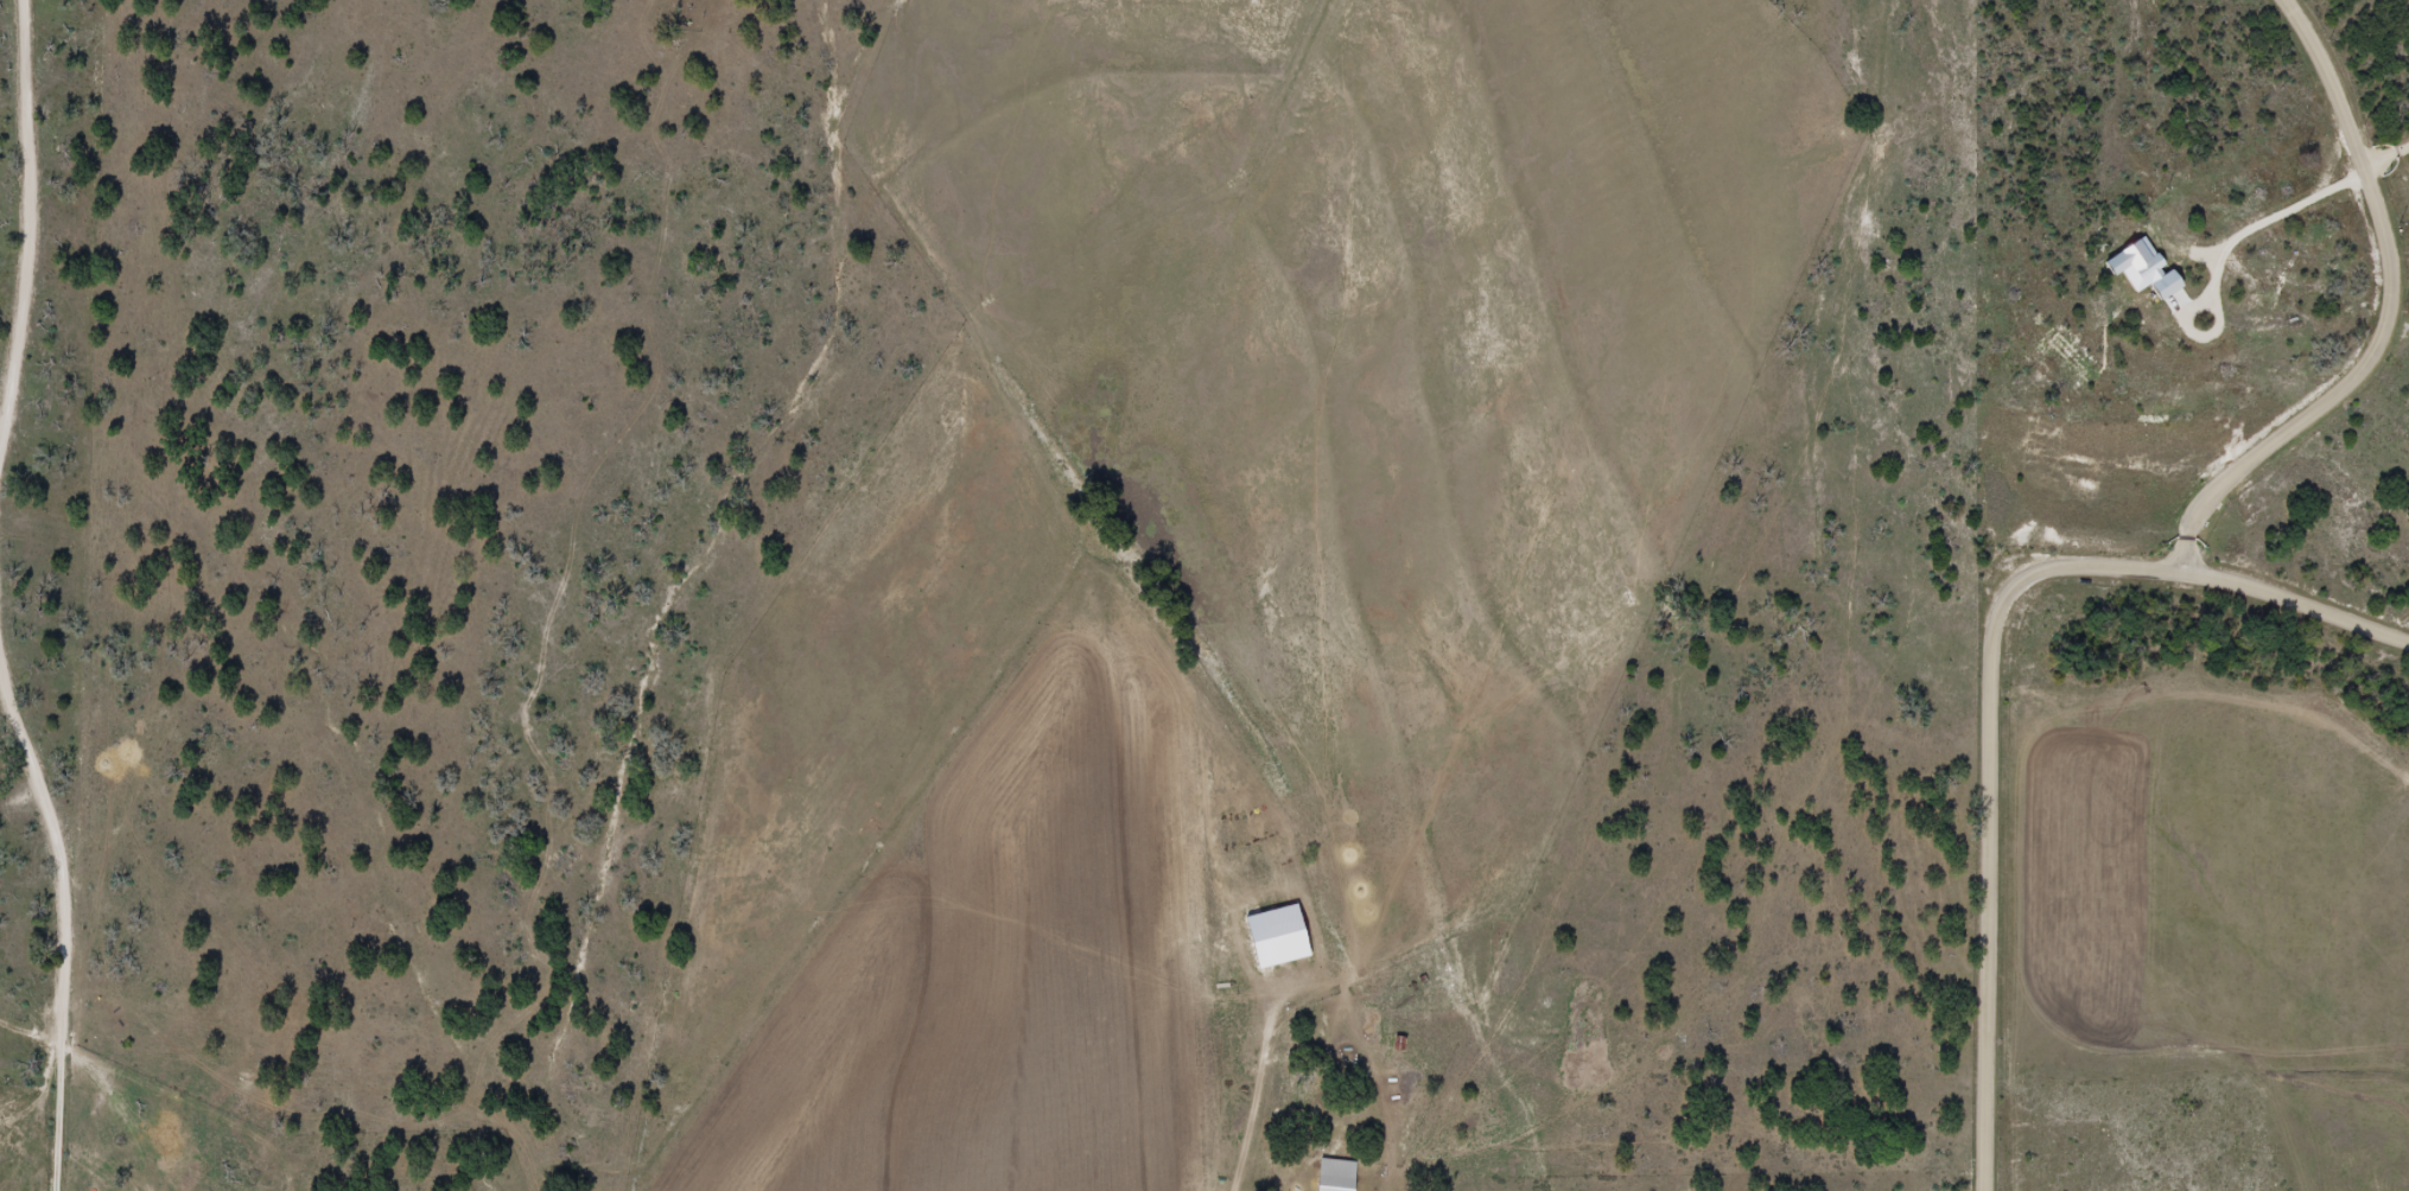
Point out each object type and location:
road: (2287, 216)
road: (44, 282)
road: (2390, 321)
road: (1991, 682)
road: (68, 945)
building: (1333, 1176)

